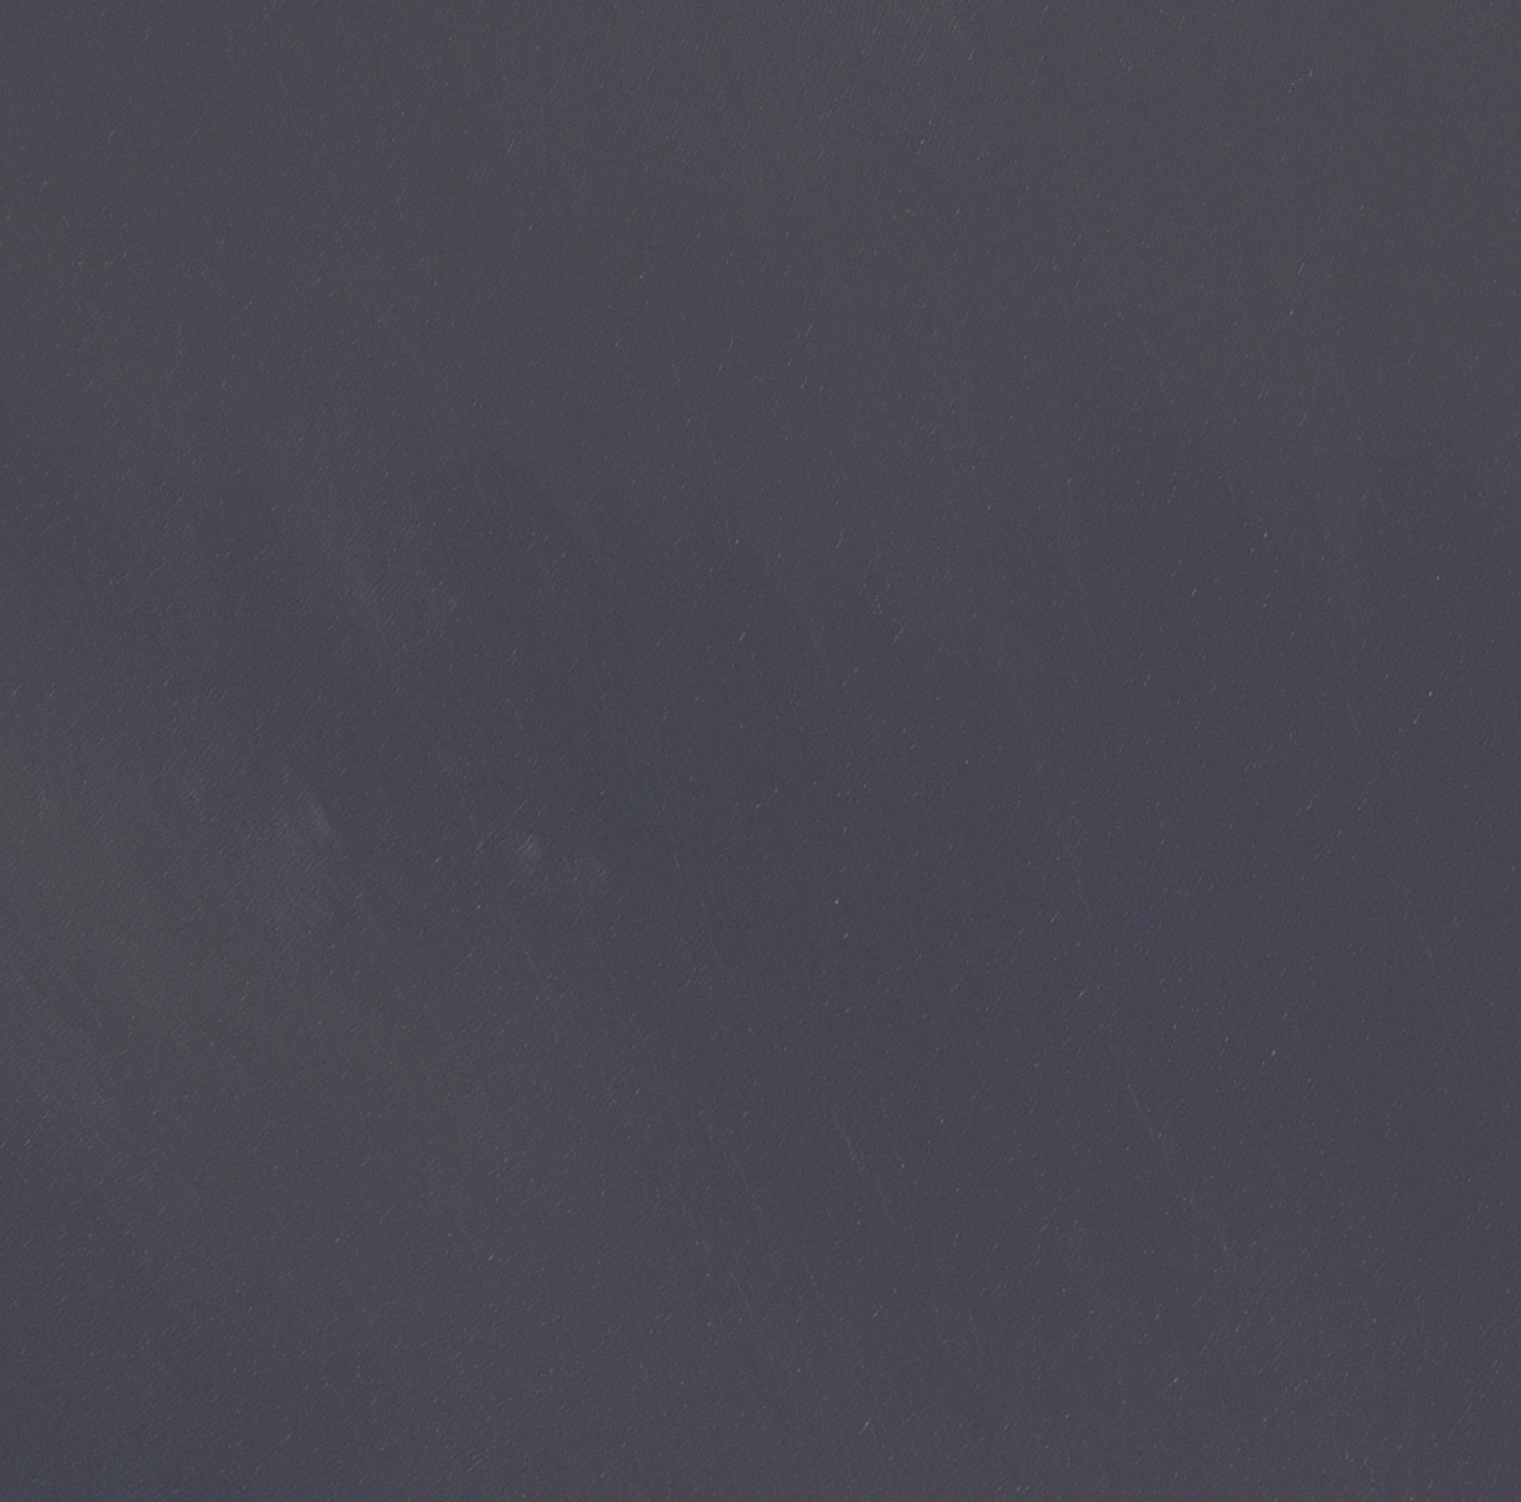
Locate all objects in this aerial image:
river: (1381, 73)

